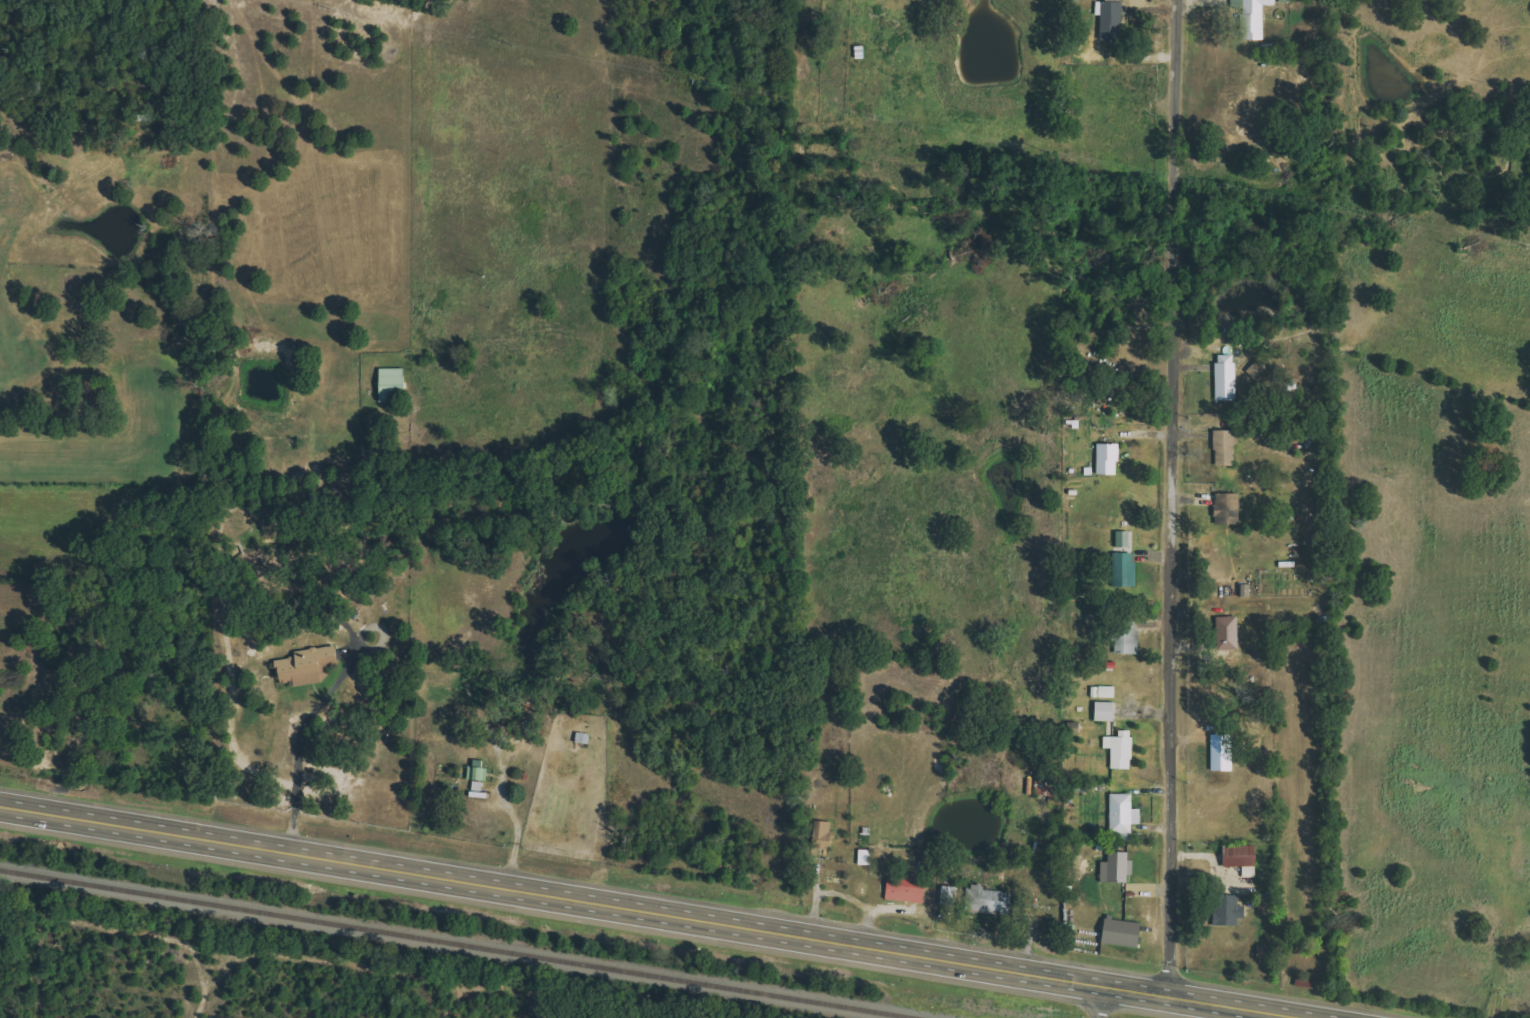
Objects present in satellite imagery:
building: (1251, 17)
building: (1112, 20)
building: (1228, 377)
building: (395, 384)
building: (1227, 448)
building: (1109, 459)
road: (1170, 497)
building: (1229, 507)
building: (1126, 540)
building: (1126, 570)
building: (1230, 633)
building: (1129, 640)
building: (310, 666)
road: (319, 704)
building: (1108, 711)
building: (1122, 750)
building: (1224, 752)
building: (480, 770)
building: (1047, 786)
building: (1125, 814)
building: (825, 835)
building: (1237, 855)
building: (867, 857)
building: (1118, 868)
building: (908, 890)
building: (951, 895)
building: (989, 901)
building: (1226, 909)
road: (653, 910)
building: (1121, 932)
railway: (459, 943)
road: (1100, 1002)

